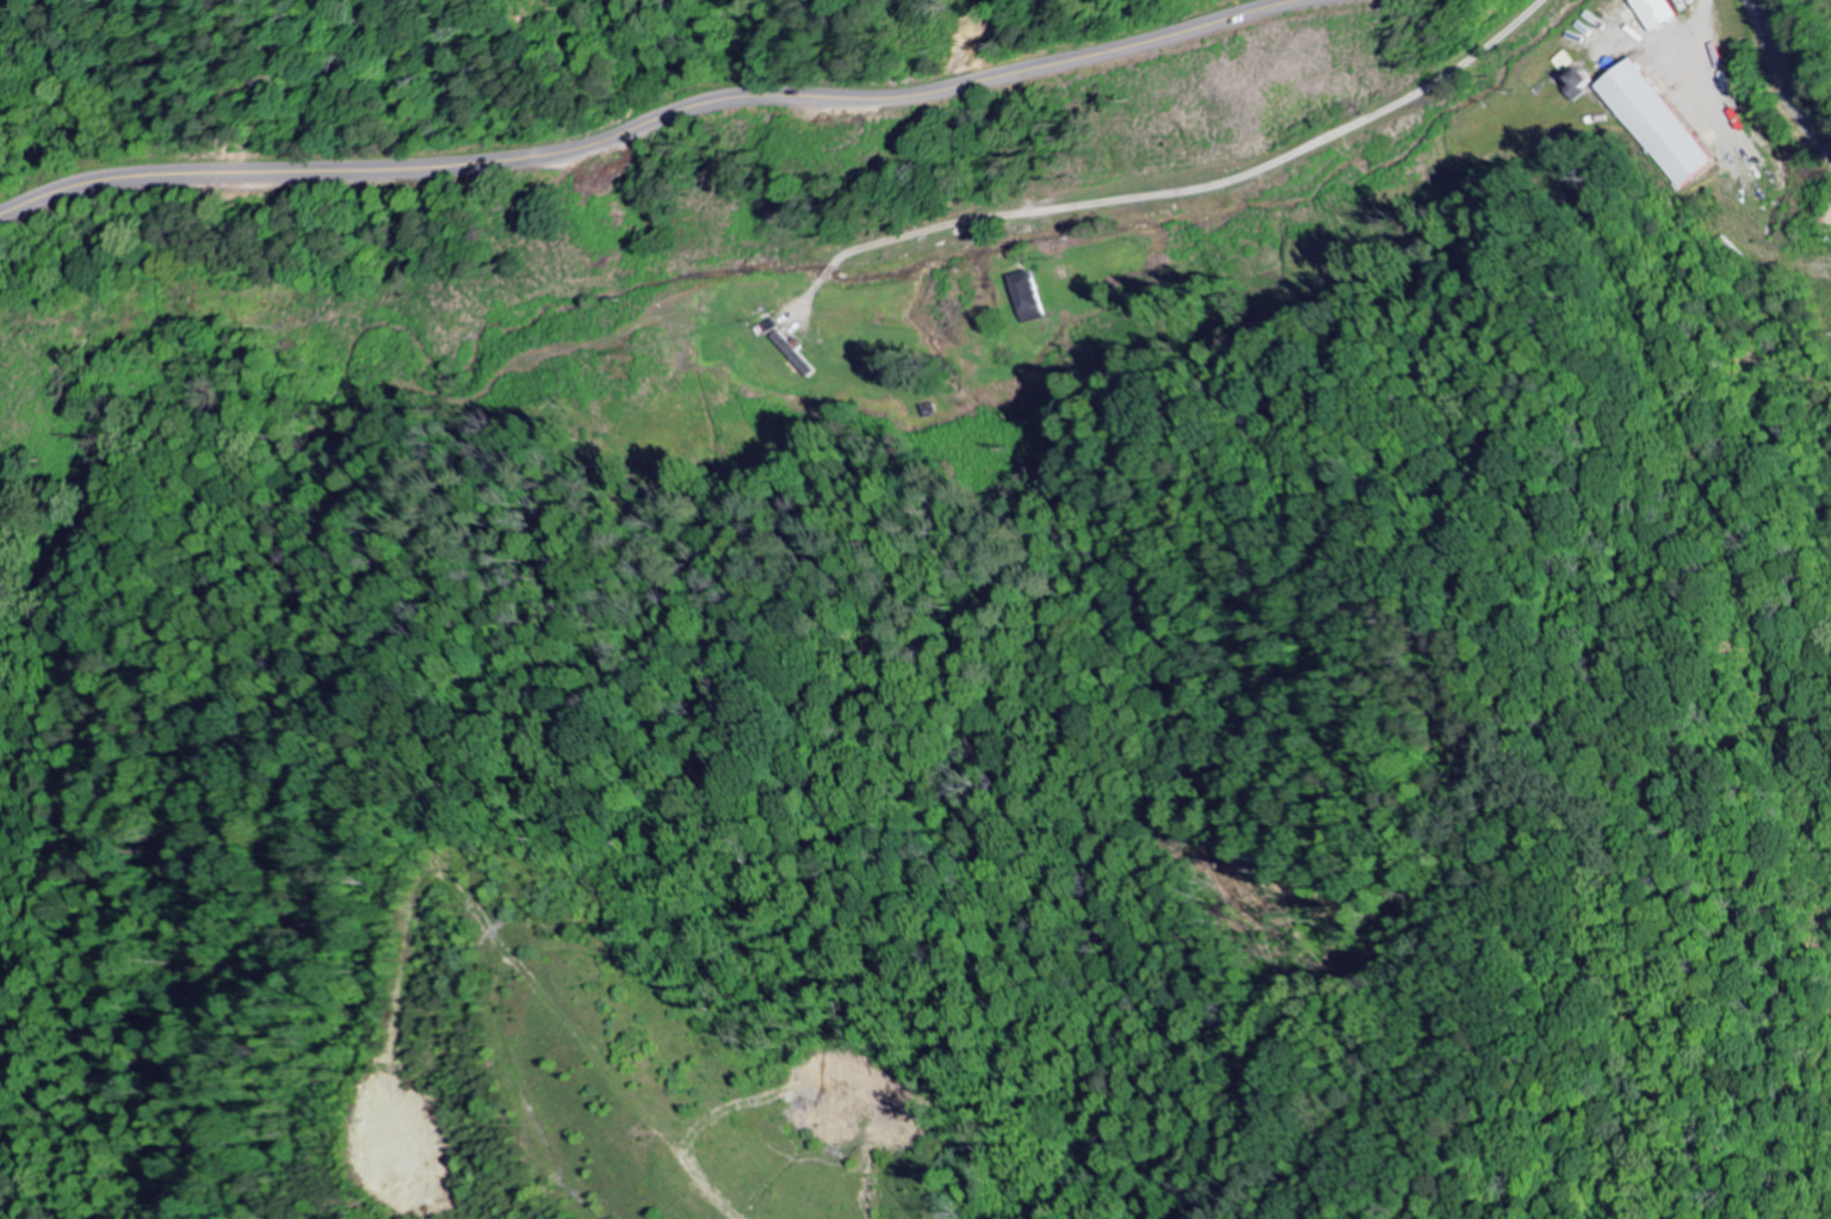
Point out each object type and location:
road: (1697, 41)
road: (1684, 69)
road: (1783, 82)
building: (1581, 83)
road: (648, 122)
building: (1654, 123)
road: (1214, 186)
road: (1738, 230)
building: (1032, 297)
road: (73, 307)

